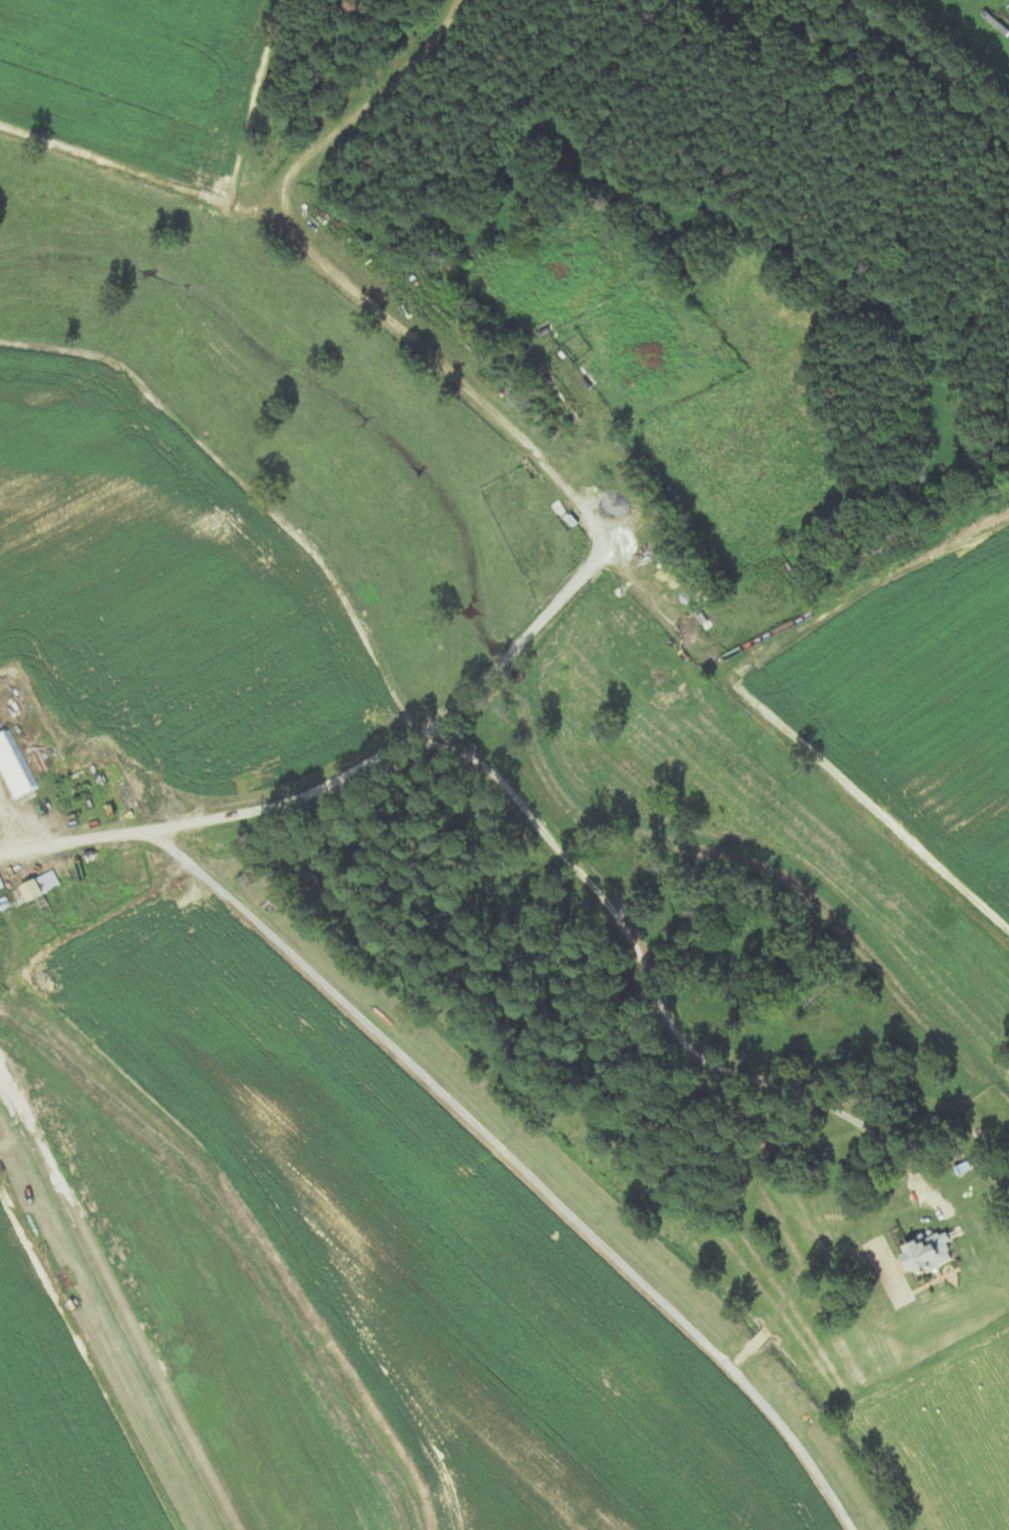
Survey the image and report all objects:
road: (362, 110)
road: (548, 467)
road: (344, 776)
road: (663, 1005)
building: (921, 1252)

